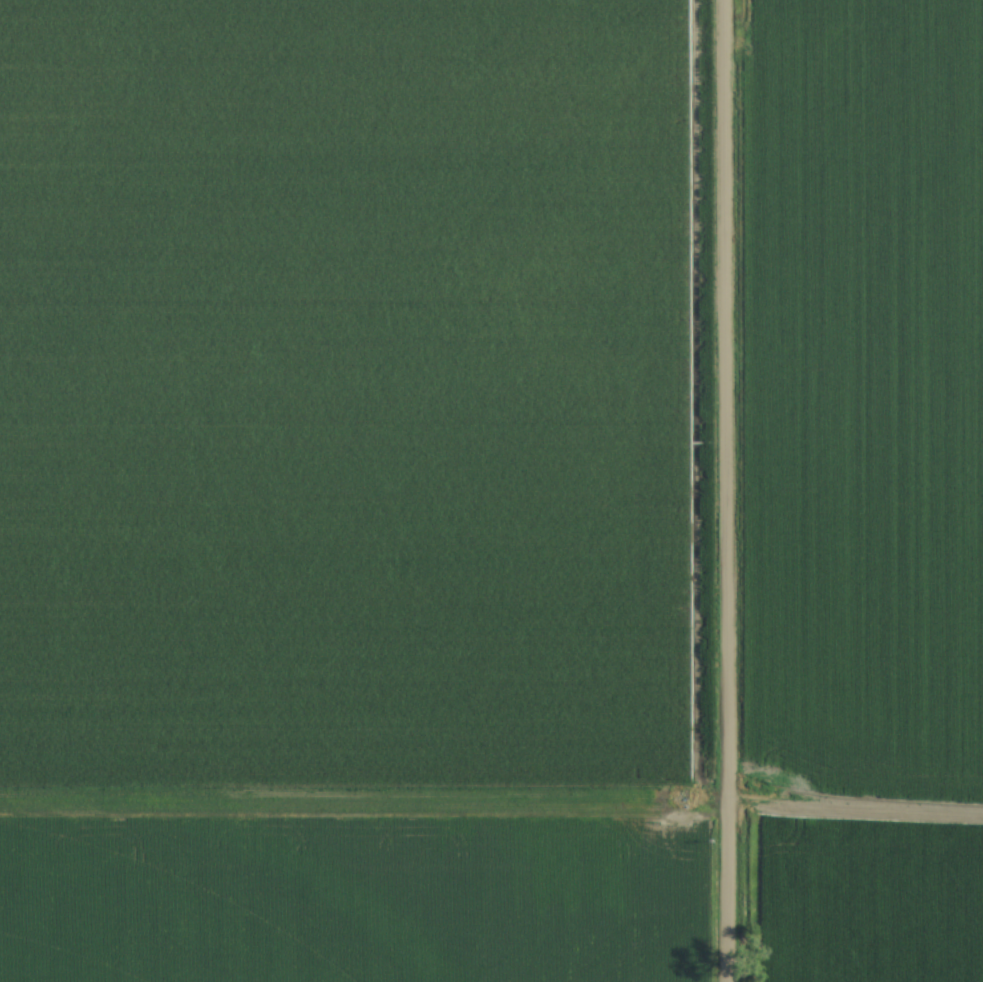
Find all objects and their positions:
crop: (868, 490)
crop: (349, 491)
road: (726, 491)

